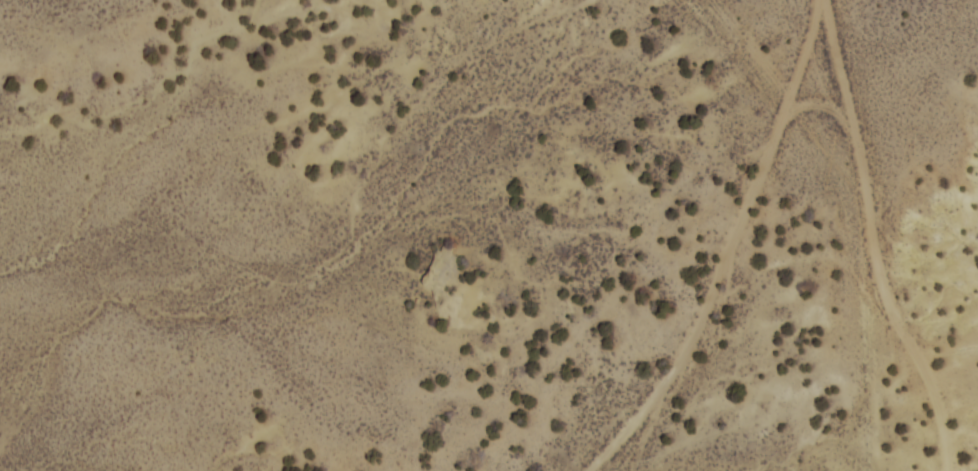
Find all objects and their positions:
road: (820, 2)
road: (873, 238)

